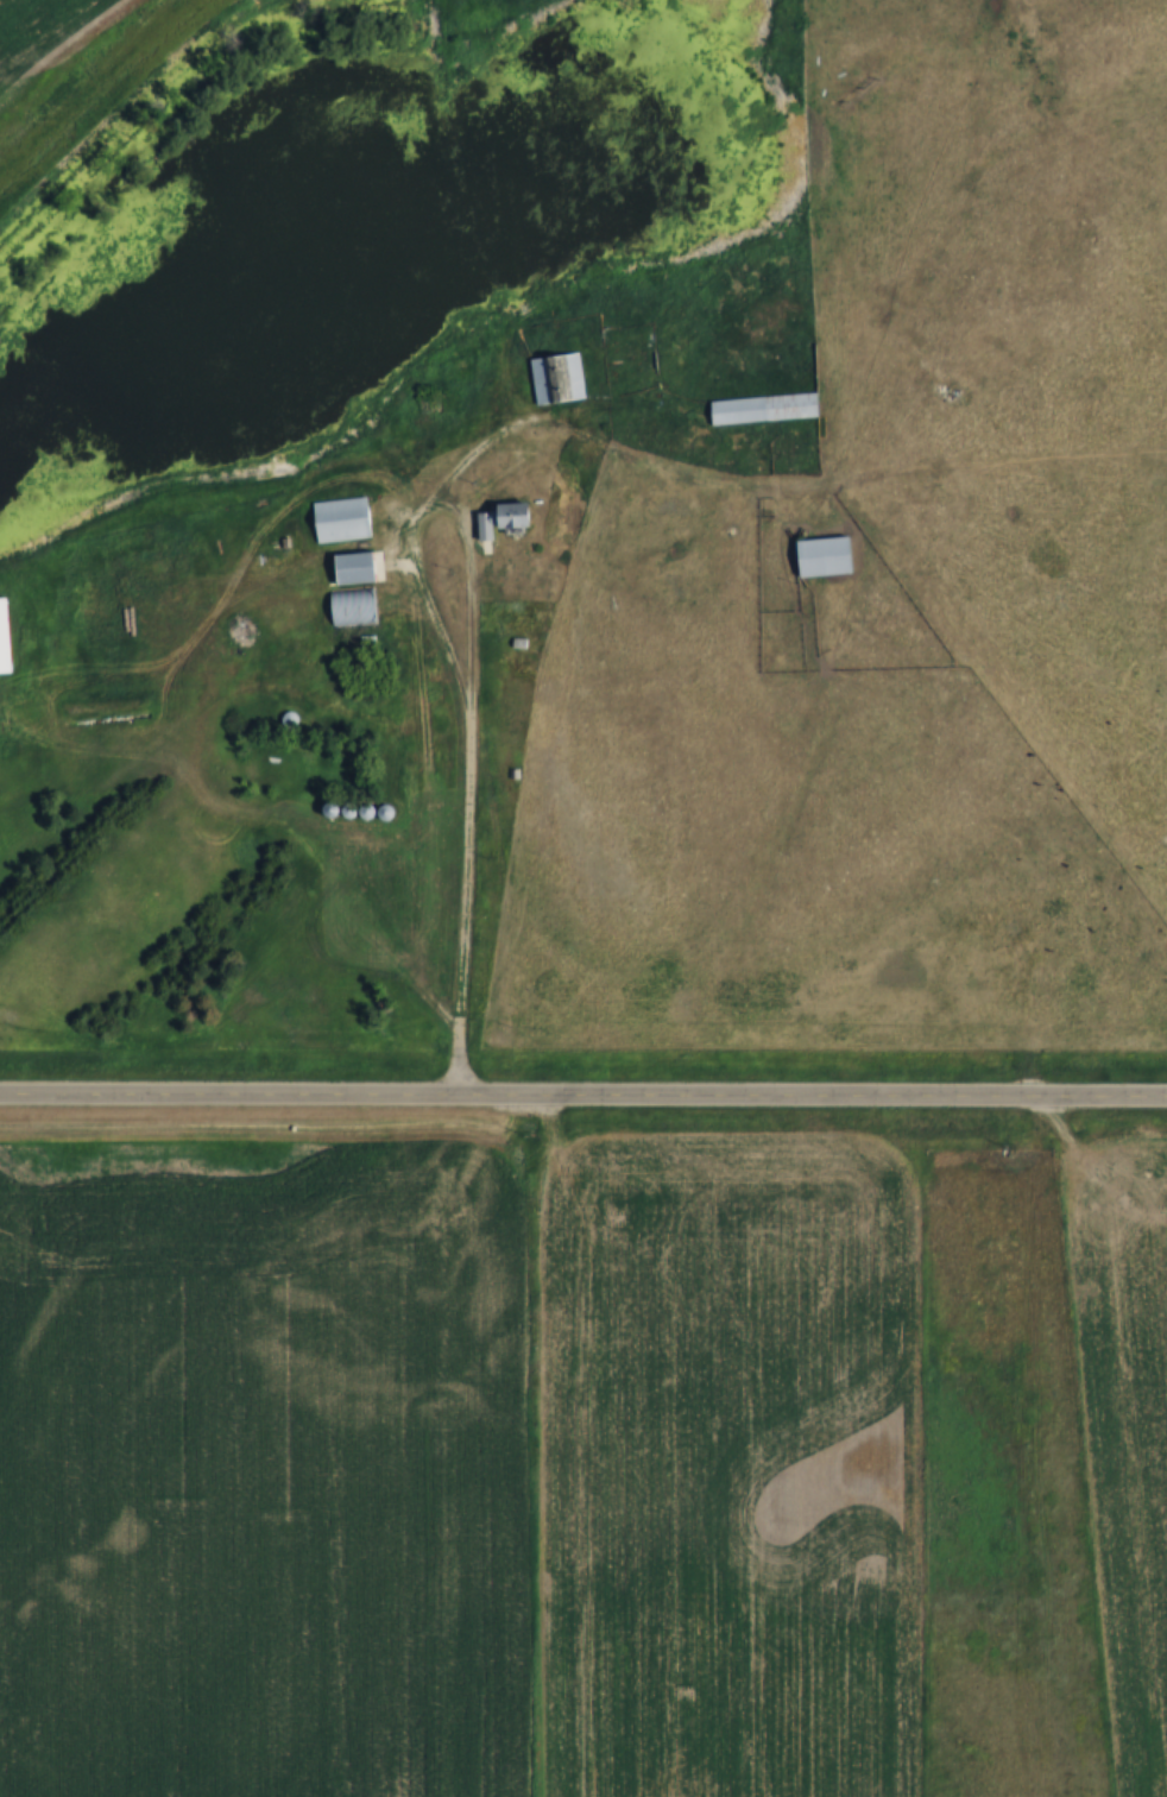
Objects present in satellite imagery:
building: (460, 372)
building: (556, 378)
building: (761, 408)
building: (509, 517)
building: (340, 519)
building: (824, 556)
building: (355, 567)
building: (352, 607)
building: (5, 638)
road: (583, 1091)

